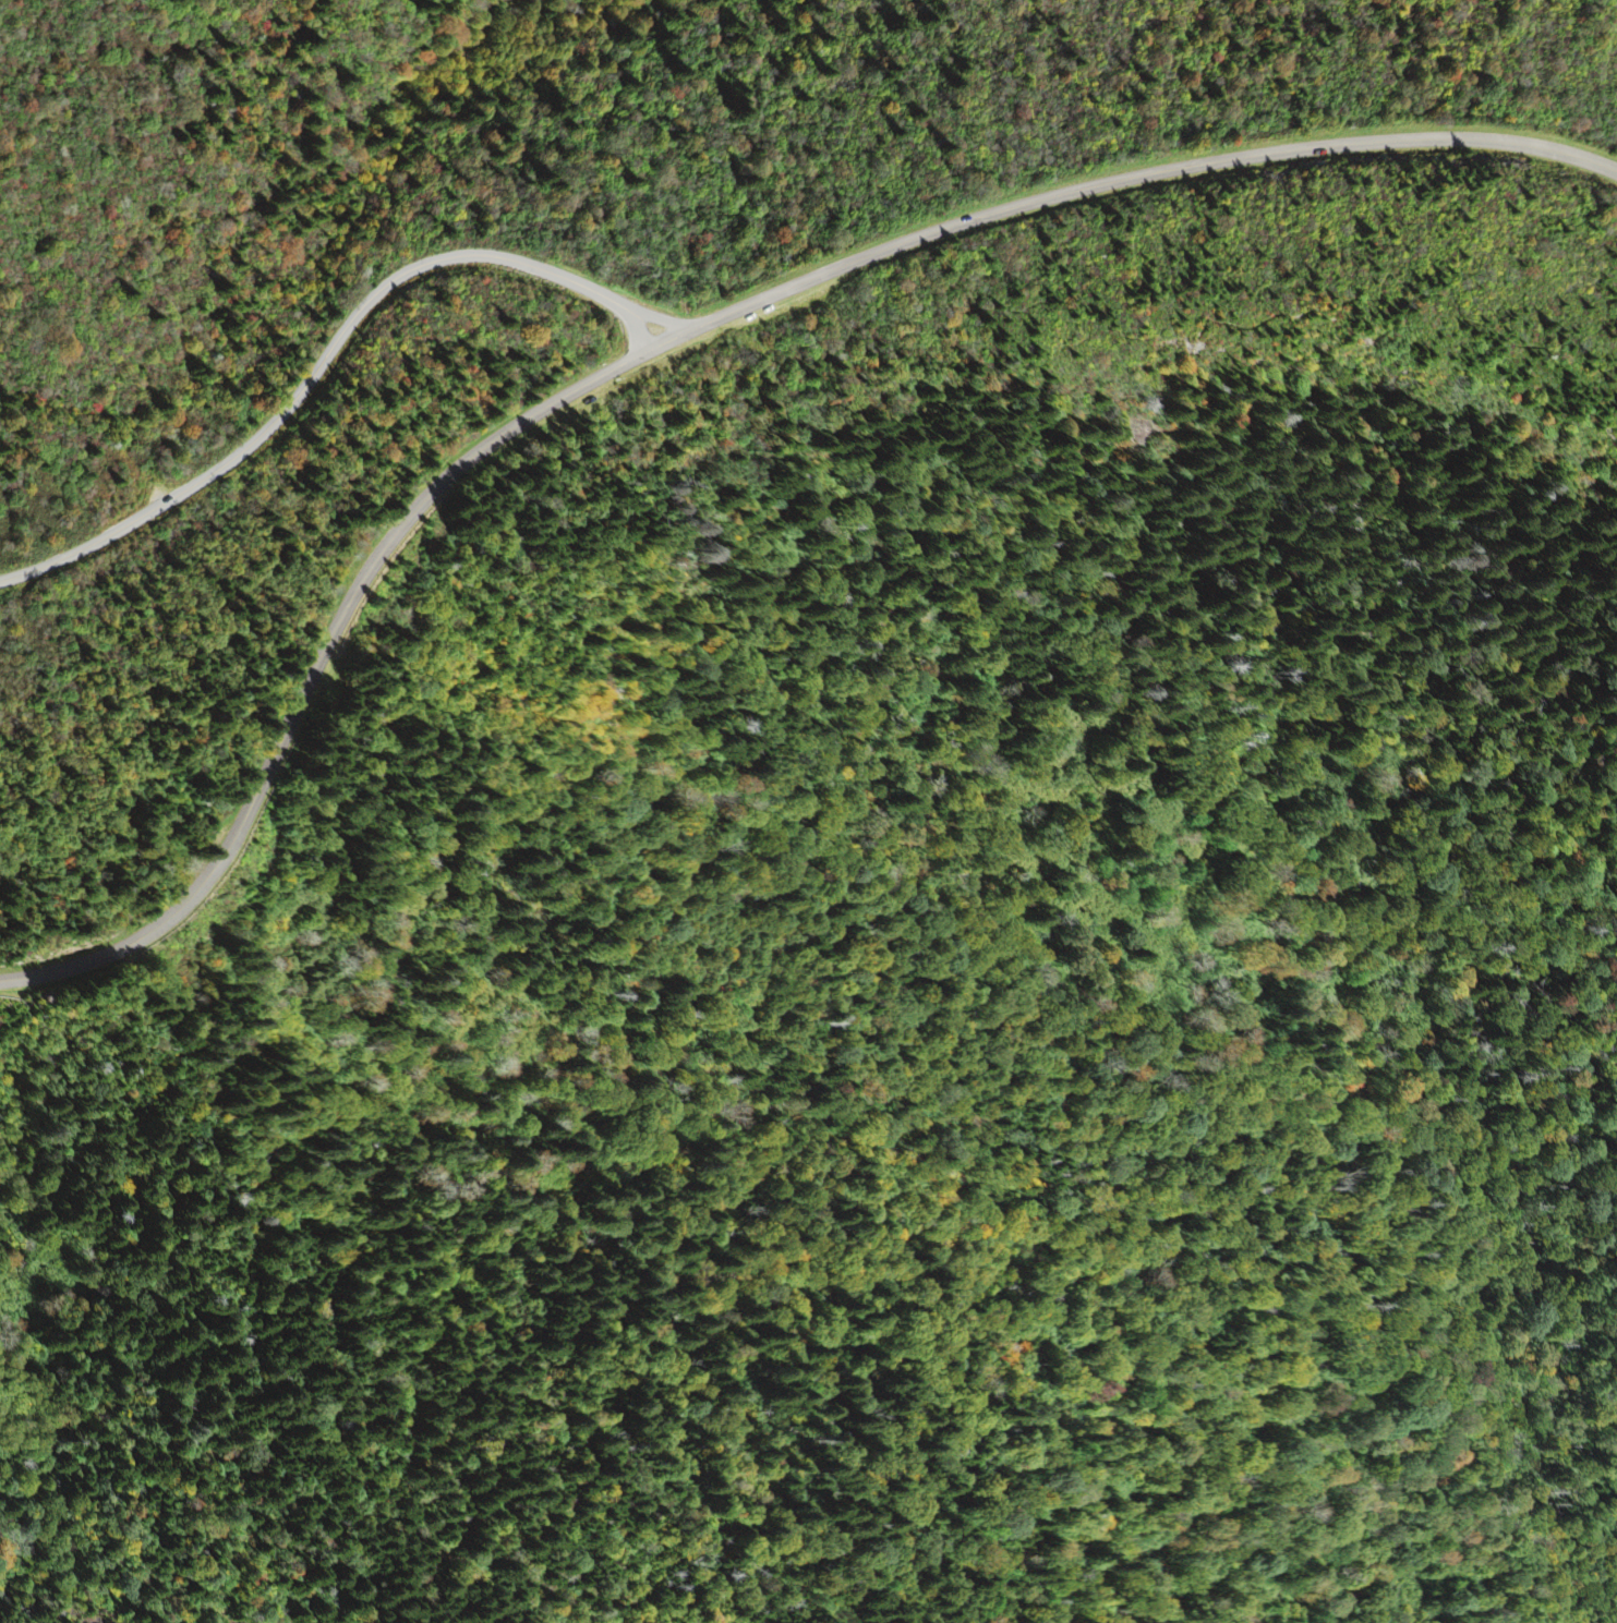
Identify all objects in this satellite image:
road: (662, 318)
road: (675, 336)
road: (325, 360)

